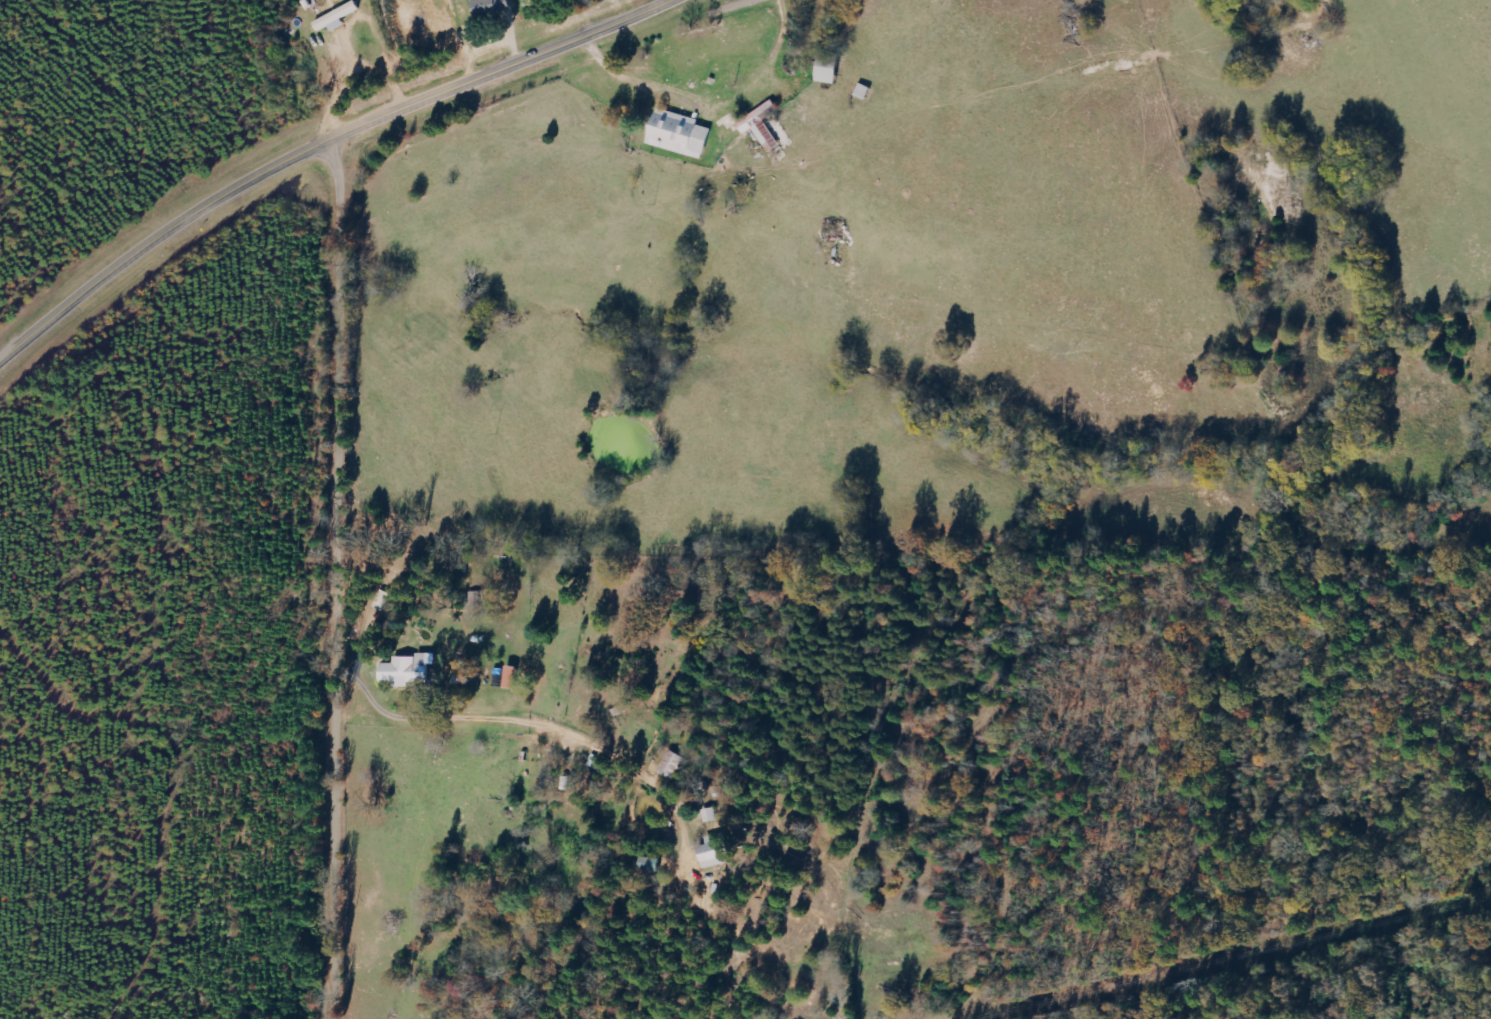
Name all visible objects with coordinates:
building: (494, 8)
building: (338, 18)
road: (431, 47)
building: (830, 69)
building: (681, 134)
road: (319, 147)
road: (344, 578)
road: (487, 609)
building: (407, 670)
building: (514, 677)
road: (285, 679)
building: (673, 764)
building: (717, 851)
building: (653, 864)

